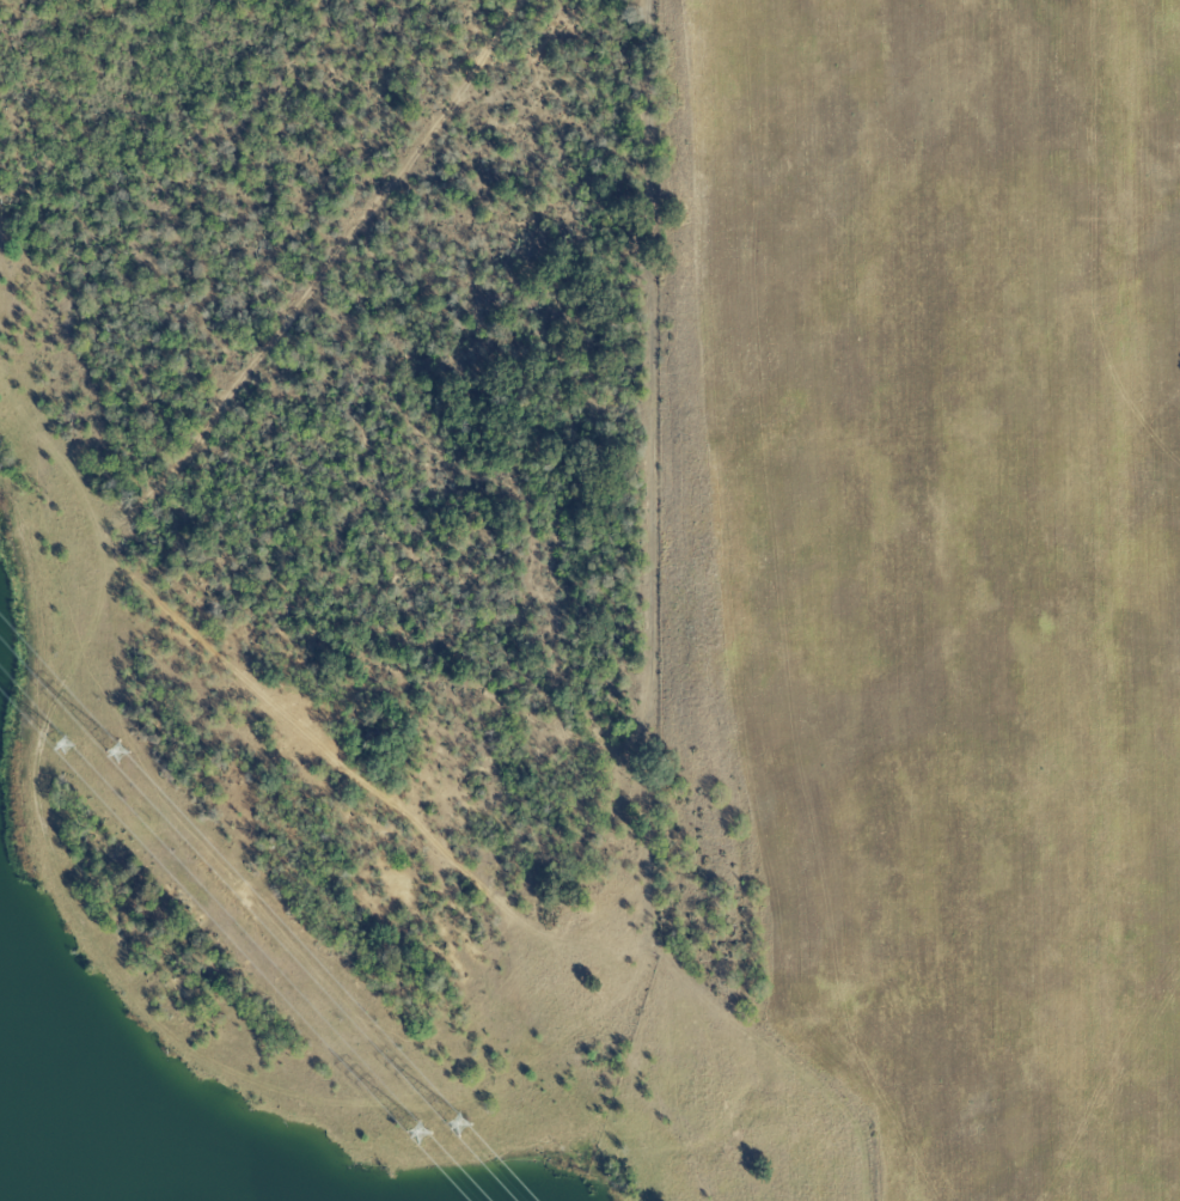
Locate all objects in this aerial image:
power tower: (80, 749)
power tower: (123, 755)
power tower: (470, 1129)
power tower: (429, 1140)

